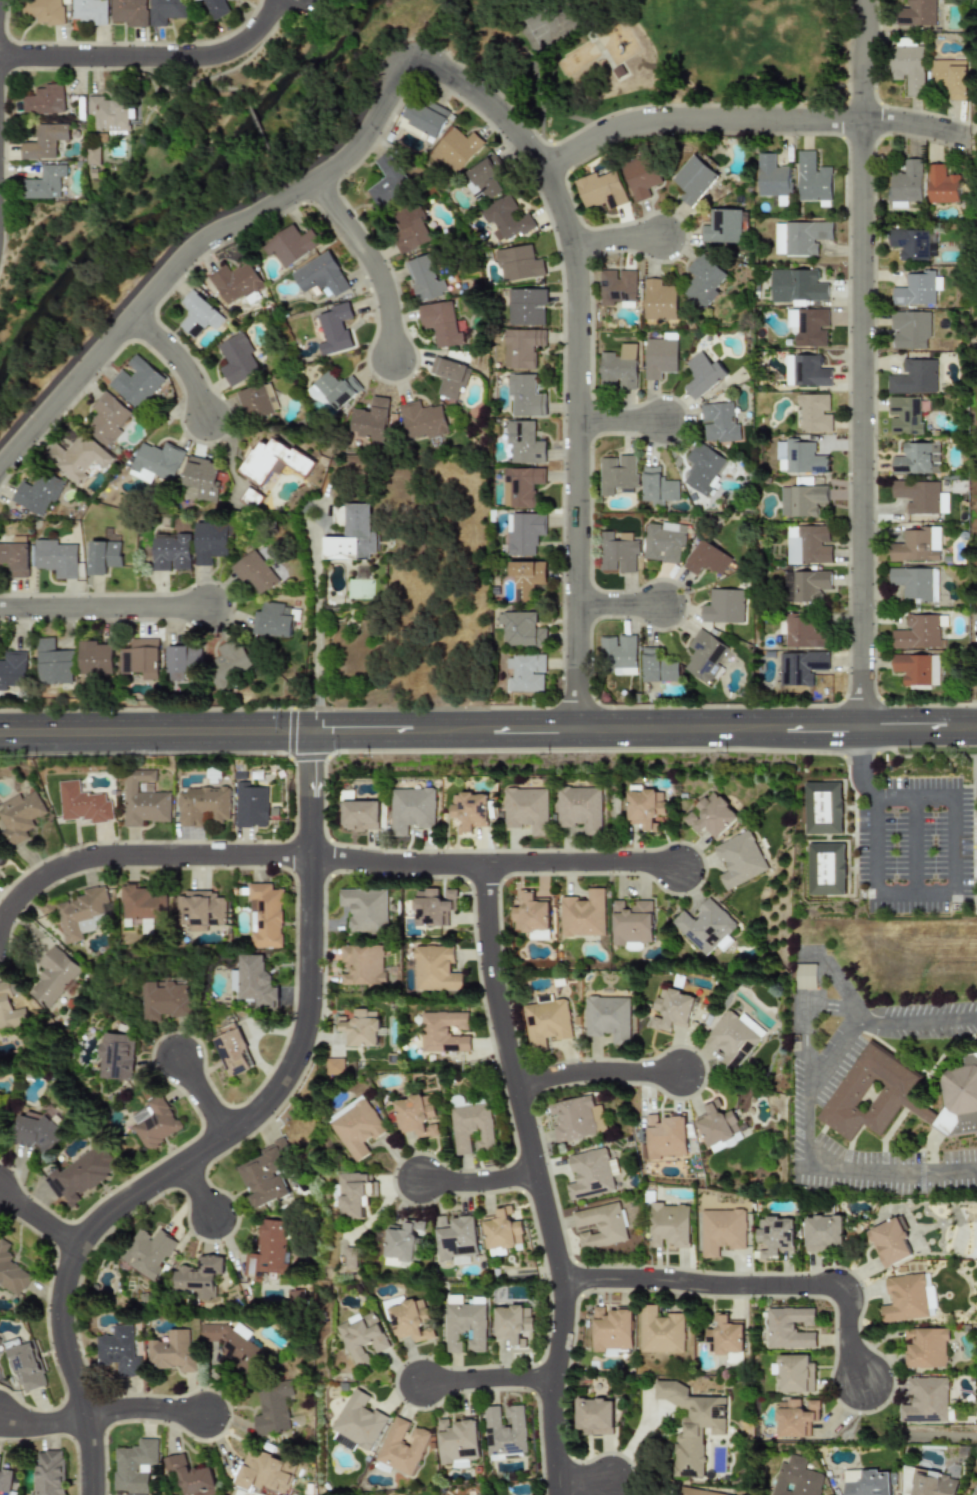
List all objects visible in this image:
building: (195, 0)
road: (0, 2)
road: (297, 3)
building: (213, 7)
building: (43, 11)
building: (87, 11)
building: (163, 11)
building: (127, 12)
building: (916, 13)
road: (152, 57)
park: (656, 57)
building: (907, 68)
building: (949, 77)
building: (43, 100)
building: (108, 113)
building: (424, 117)
road: (751, 119)
building: (43, 141)
building: (454, 149)
building: (91, 155)
building: (640, 176)
building: (811, 178)
building: (387, 180)
building: (693, 180)
building: (772, 180)
building: (43, 182)
building: (905, 185)
building: (940, 185)
building: (471, 189)
building: (600, 190)
building: (505, 219)
building: (722, 227)
building: (408, 228)
building: (799, 237)
road: (619, 238)
building: (909, 244)
building: (289, 245)
road: (196, 249)
building: (517, 263)
road: (372, 266)
building: (319, 275)
building: (423, 278)
building: (702, 281)
building: (235, 283)
building: (796, 285)
building: (617, 287)
building: (916, 289)
building: (658, 300)
building: (525, 307)
building: (197, 314)
building: (440, 322)
building: (807, 326)
building: (334, 329)
building: (910, 329)
building: (521, 347)
road: (578, 358)
building: (658, 358)
building: (236, 359)
road: (178, 361)
road: (862, 363)
building: (618, 368)
building: (804, 371)
building: (702, 375)
building: (448, 377)
building: (913, 377)
building: (136, 382)
building: (332, 390)
building: (524, 396)
building: (256, 401)
building: (814, 413)
building: (904, 414)
building: (106, 419)
building: (369, 420)
building: (421, 420)
road: (621, 422)
building: (718, 422)
building: (522, 443)
building: (798, 457)
building: (77, 458)
building: (916, 458)
building: (272, 460)
building: (154, 462)
building: (702, 469)
building: (616, 474)
building: (200, 477)
building: (520, 486)
building: (657, 487)
building: (37, 493)
building: (917, 496)
building: (250, 498)
building: (800, 500)
building: (523, 534)
building: (352, 535)
building: (209, 540)
building: (662, 543)
building: (807, 545)
building: (915, 545)
building: (170, 551)
building: (616, 552)
building: (102, 556)
building: (14, 558)
building: (54, 558)
building: (705, 558)
building: (254, 572)
building: (525, 577)
building: (914, 582)
building: (804, 585)
building: (722, 606)
road: (620, 607)
road: (104, 608)
building: (273, 620)
road: (319, 620)
building: (520, 629)
building: (800, 631)
building: (916, 632)
building: (617, 654)
building: (704, 655)
building: (140, 658)
building: (95, 659)
building: (183, 662)
building: (54, 663)
building: (227, 663)
building: (657, 667)
building: (800, 667)
building: (912, 668)
building: (13, 669)
building: (934, 670)
building: (525, 672)
road: (644, 728)
road: (156, 731)
traffic signals: (284, 731)
traffic signals: (330, 731)
traffic signals: (313, 765)
road: (861, 765)
road: (915, 796)
building: (142, 799)
building: (81, 804)
building: (200, 805)
building: (249, 805)
building: (822, 807)
building: (579, 808)
building: (645, 808)
building: (410, 809)
building: (526, 809)
building: (468, 810)
building: (359, 815)
building: (18, 816)
building: (710, 816)
road: (876, 844)
road: (914, 844)
road: (955, 844)
road: (143, 855)
building: (1, 856)
building: (738, 859)
road: (492, 865)
building: (825, 868)
road: (915, 893)
building: (433, 906)
building: (142, 907)
building: (365, 909)
building: (201, 910)
building: (83, 913)
building: (582, 914)
building: (265, 916)
building: (531, 916)
building: (631, 922)
building: (705, 927)
building: (362, 964)
building: (435, 968)
building: (809, 976)
building: (55, 977)
building: (255, 981)
road: (838, 985)
building: (169, 1000)
building: (10, 1007)
building: (671, 1010)
building: (608, 1017)
building: (546, 1021)
building: (752, 1026)
building: (361, 1028)
building: (443, 1032)
road: (807, 1033)
road: (842, 1037)
building: (731, 1039)
building: (235, 1051)
building: (121, 1056)
building: (335, 1066)
road: (599, 1073)
building: (900, 1094)
road: (208, 1096)
building: (418, 1116)
building: (576, 1118)
building: (159, 1122)
building: (717, 1124)
building: (358, 1127)
building: (471, 1128)
building: (39, 1133)
building: (665, 1136)
road: (227, 1139)
road: (894, 1166)
building: (589, 1174)
building: (83, 1175)
building: (272, 1175)
road: (538, 1179)
road: (482, 1181)
road: (206, 1193)
building: (358, 1195)
road: (40, 1219)
building: (600, 1225)
building: (670, 1225)
building: (501, 1230)
building: (723, 1230)
building: (825, 1233)
building: (776, 1236)
building: (456, 1237)
building: (890, 1242)
building: (405, 1244)
building: (276, 1250)
building: (154, 1252)
building: (355, 1258)
building: (11, 1273)
building: (206, 1277)
road: (749, 1285)
building: (301, 1295)
building: (906, 1298)
building: (932, 1301)
building: (410, 1319)
building: (513, 1324)
building: (466, 1326)
building: (612, 1328)
building: (790, 1328)
building: (661, 1331)
building: (364, 1337)
building: (728, 1337)
building: (239, 1345)
building: (929, 1349)
building: (120, 1351)
building: (175, 1352)
building: (24, 1365)
building: (796, 1374)
road: (489, 1378)
building: (927, 1400)
building: (276, 1408)
road: (148, 1409)
building: (594, 1416)
building: (796, 1418)
building: (361, 1421)
building: (693, 1425)
road: (43, 1426)
building: (505, 1431)
building: (346, 1442)
building: (457, 1442)
building: (403, 1446)
building: (135, 1467)
building: (268, 1472)
building: (48, 1473)
building: (192, 1476)
building: (796, 1478)
road: (582, 1480)
building: (6, 1483)
building: (867, 1483)
building: (933, 1484)
building: (974, 1490)
building: (699, 1492)

